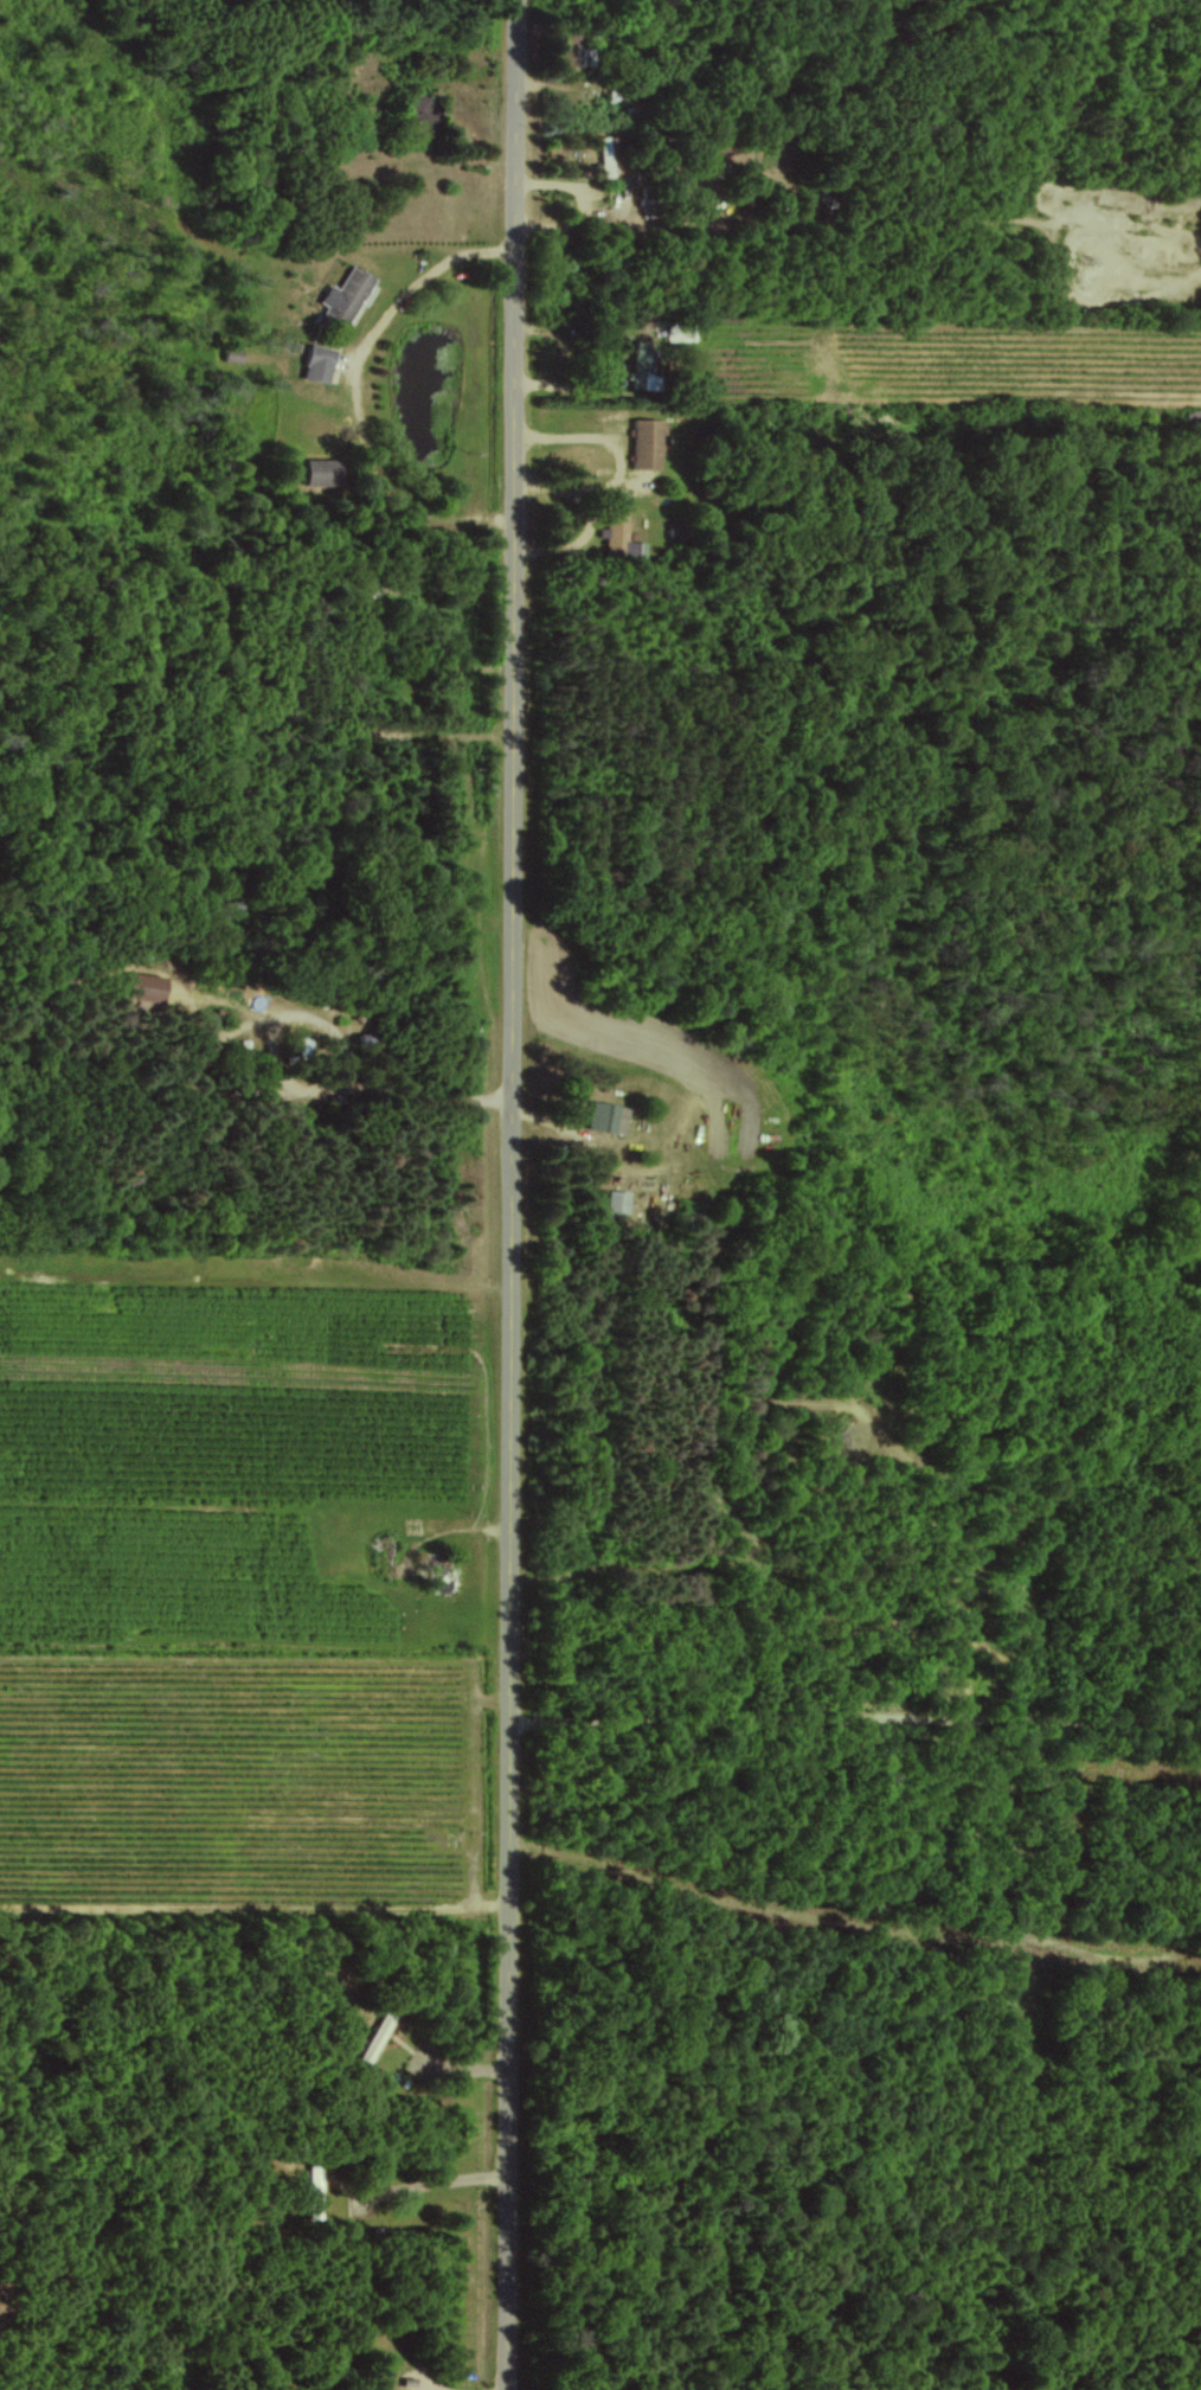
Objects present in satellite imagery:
building: (604, 155)
building: (347, 294)
building: (681, 332)
building: (320, 363)
road: (361, 396)
building: (647, 443)
building: (322, 472)
building: (619, 538)
building: (144, 986)
road: (360, 1066)
building: (605, 1116)
road: (513, 1194)
building: (617, 1200)
road: (856, 1722)
road: (856, 1910)
road: (1046, 2083)

